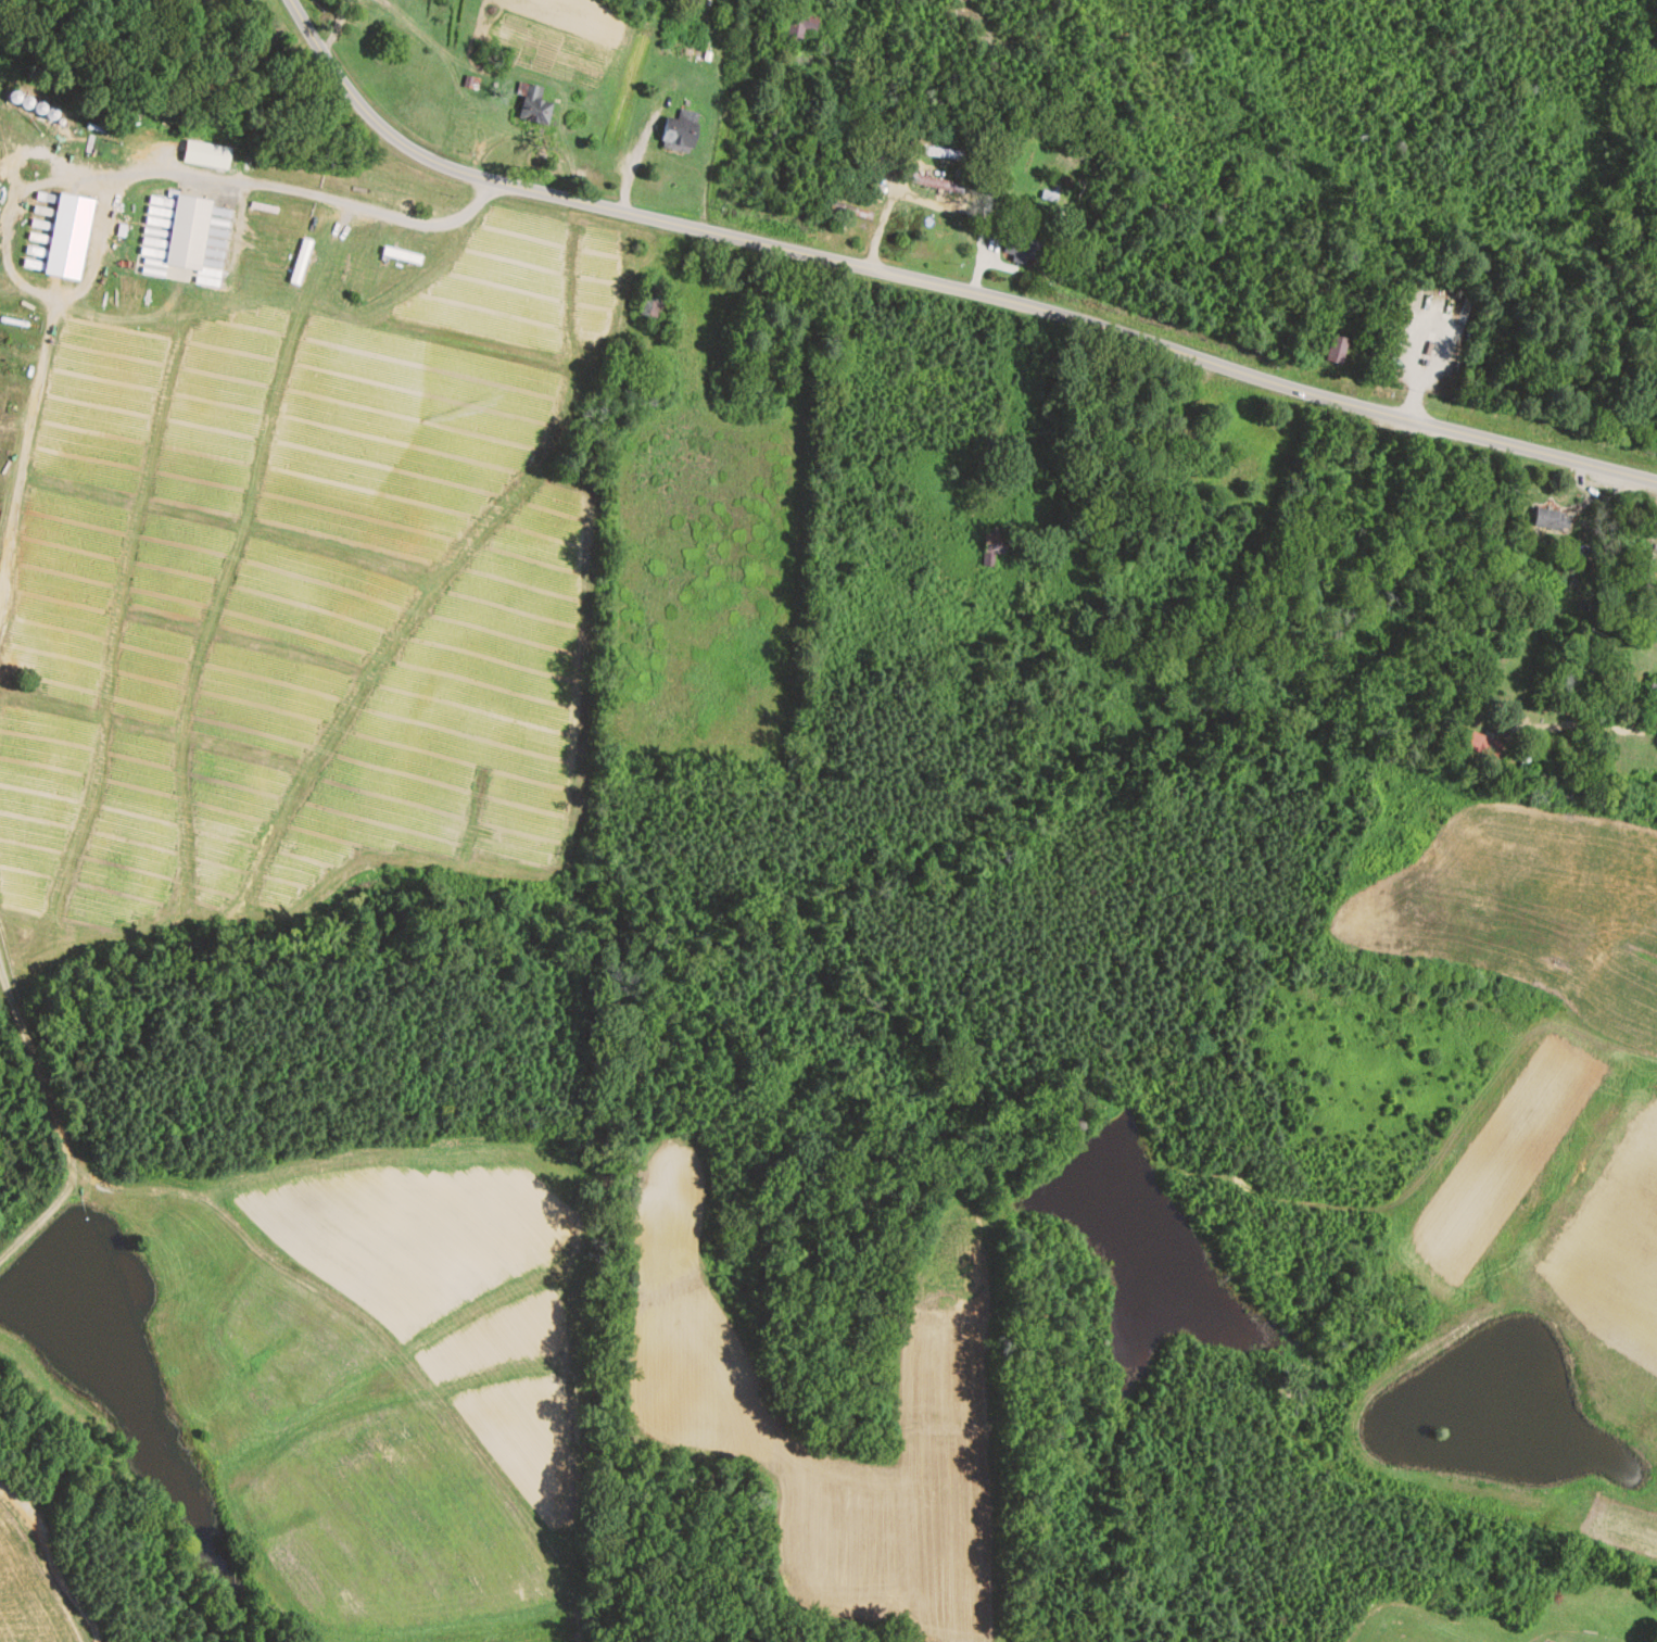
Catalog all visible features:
building: (798, 27)
building: (534, 109)
building: (680, 132)
building: (944, 153)
building: (937, 184)
road: (309, 194)
building: (855, 214)
building: (182, 235)
building: (68, 237)
building: (1022, 249)
building: (402, 255)
building: (300, 262)
road: (940, 286)
building: (650, 301)
road: (1442, 334)
building: (1333, 351)
building: (1349, 494)
building: (1552, 520)
building: (994, 541)
building: (1650, 697)
building: (1483, 744)
building: (1451, 1552)

